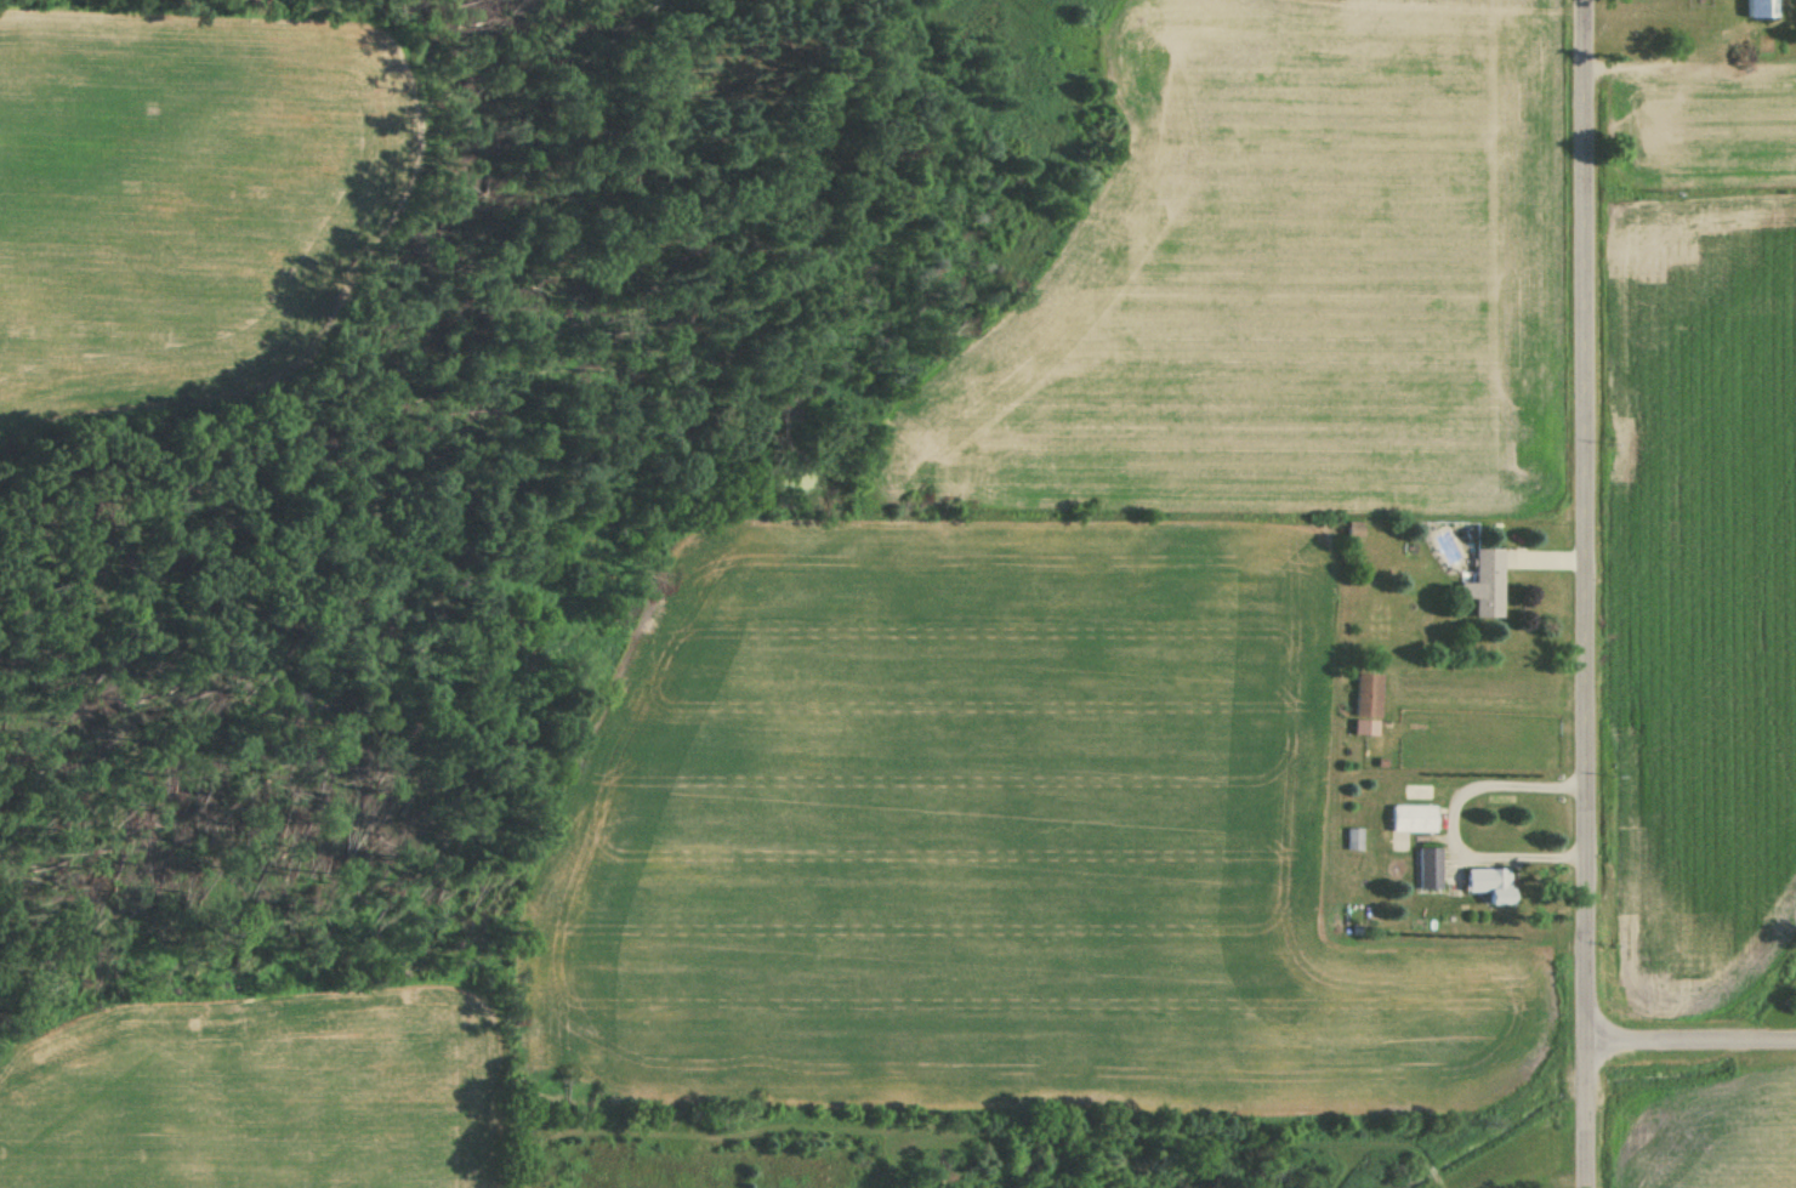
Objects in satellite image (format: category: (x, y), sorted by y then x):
building: (1760, 10)
building: (1485, 585)
road: (1587, 593)
building: (1366, 705)
building: (1411, 819)
building: (1353, 840)
building: (1427, 869)
building: (1488, 886)
road: (1693, 1040)

